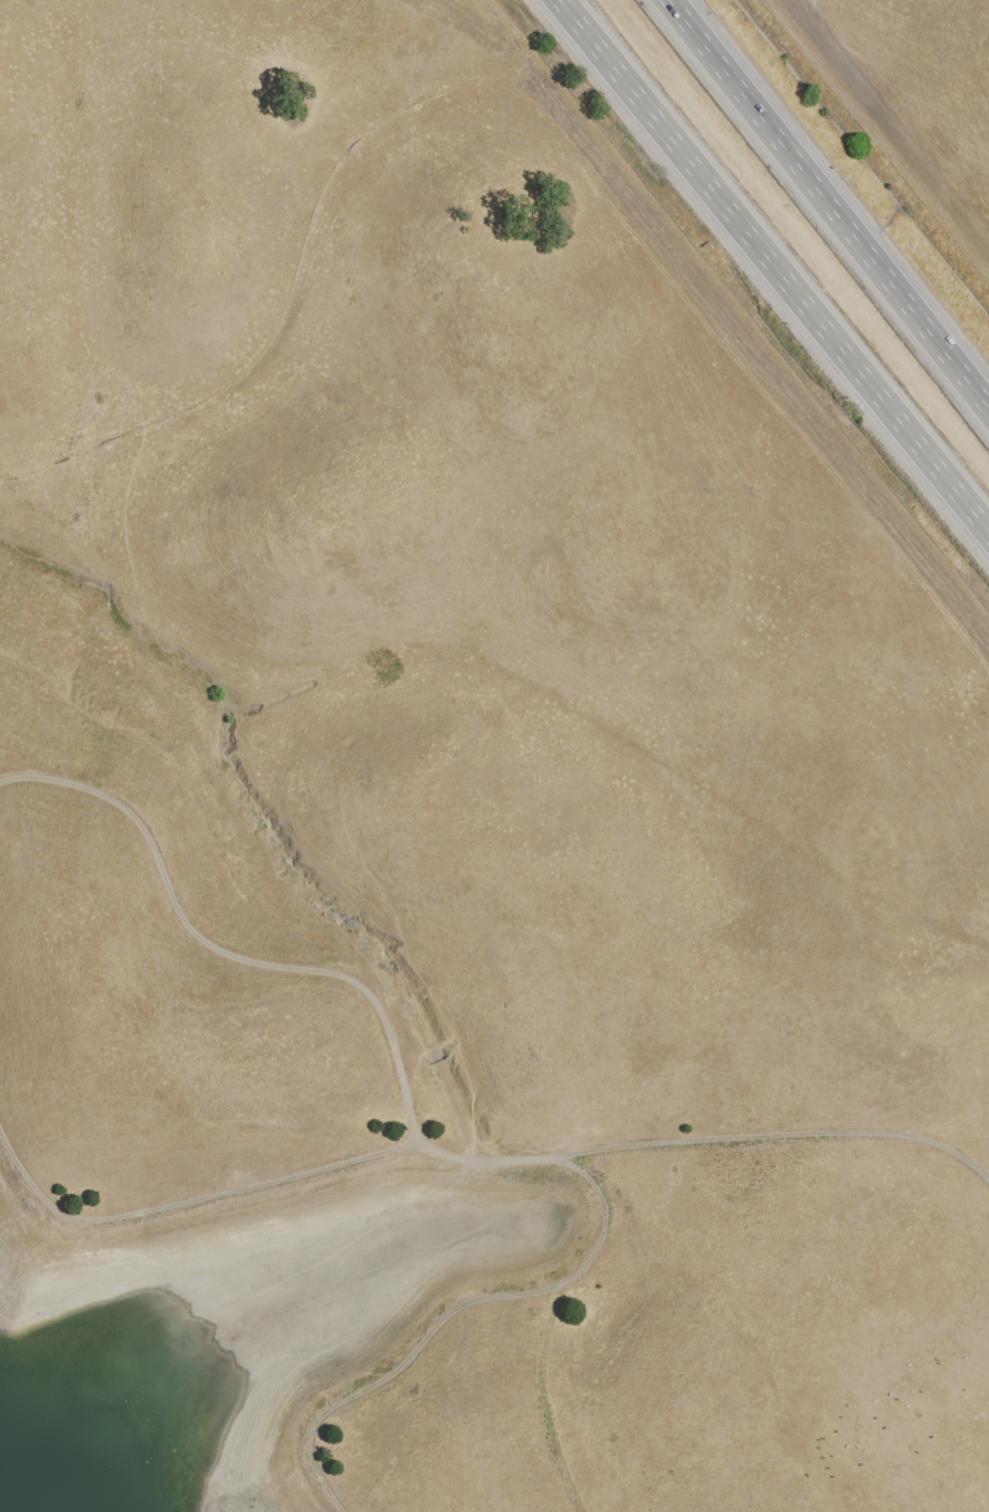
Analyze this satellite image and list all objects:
road: (829, 203)
road: (775, 265)
road: (292, 306)
road: (500, 667)
road: (206, 818)
road: (224, 952)
road: (468, 1154)
road: (585, 1260)
road: (391, 1365)
road: (549, 1439)

